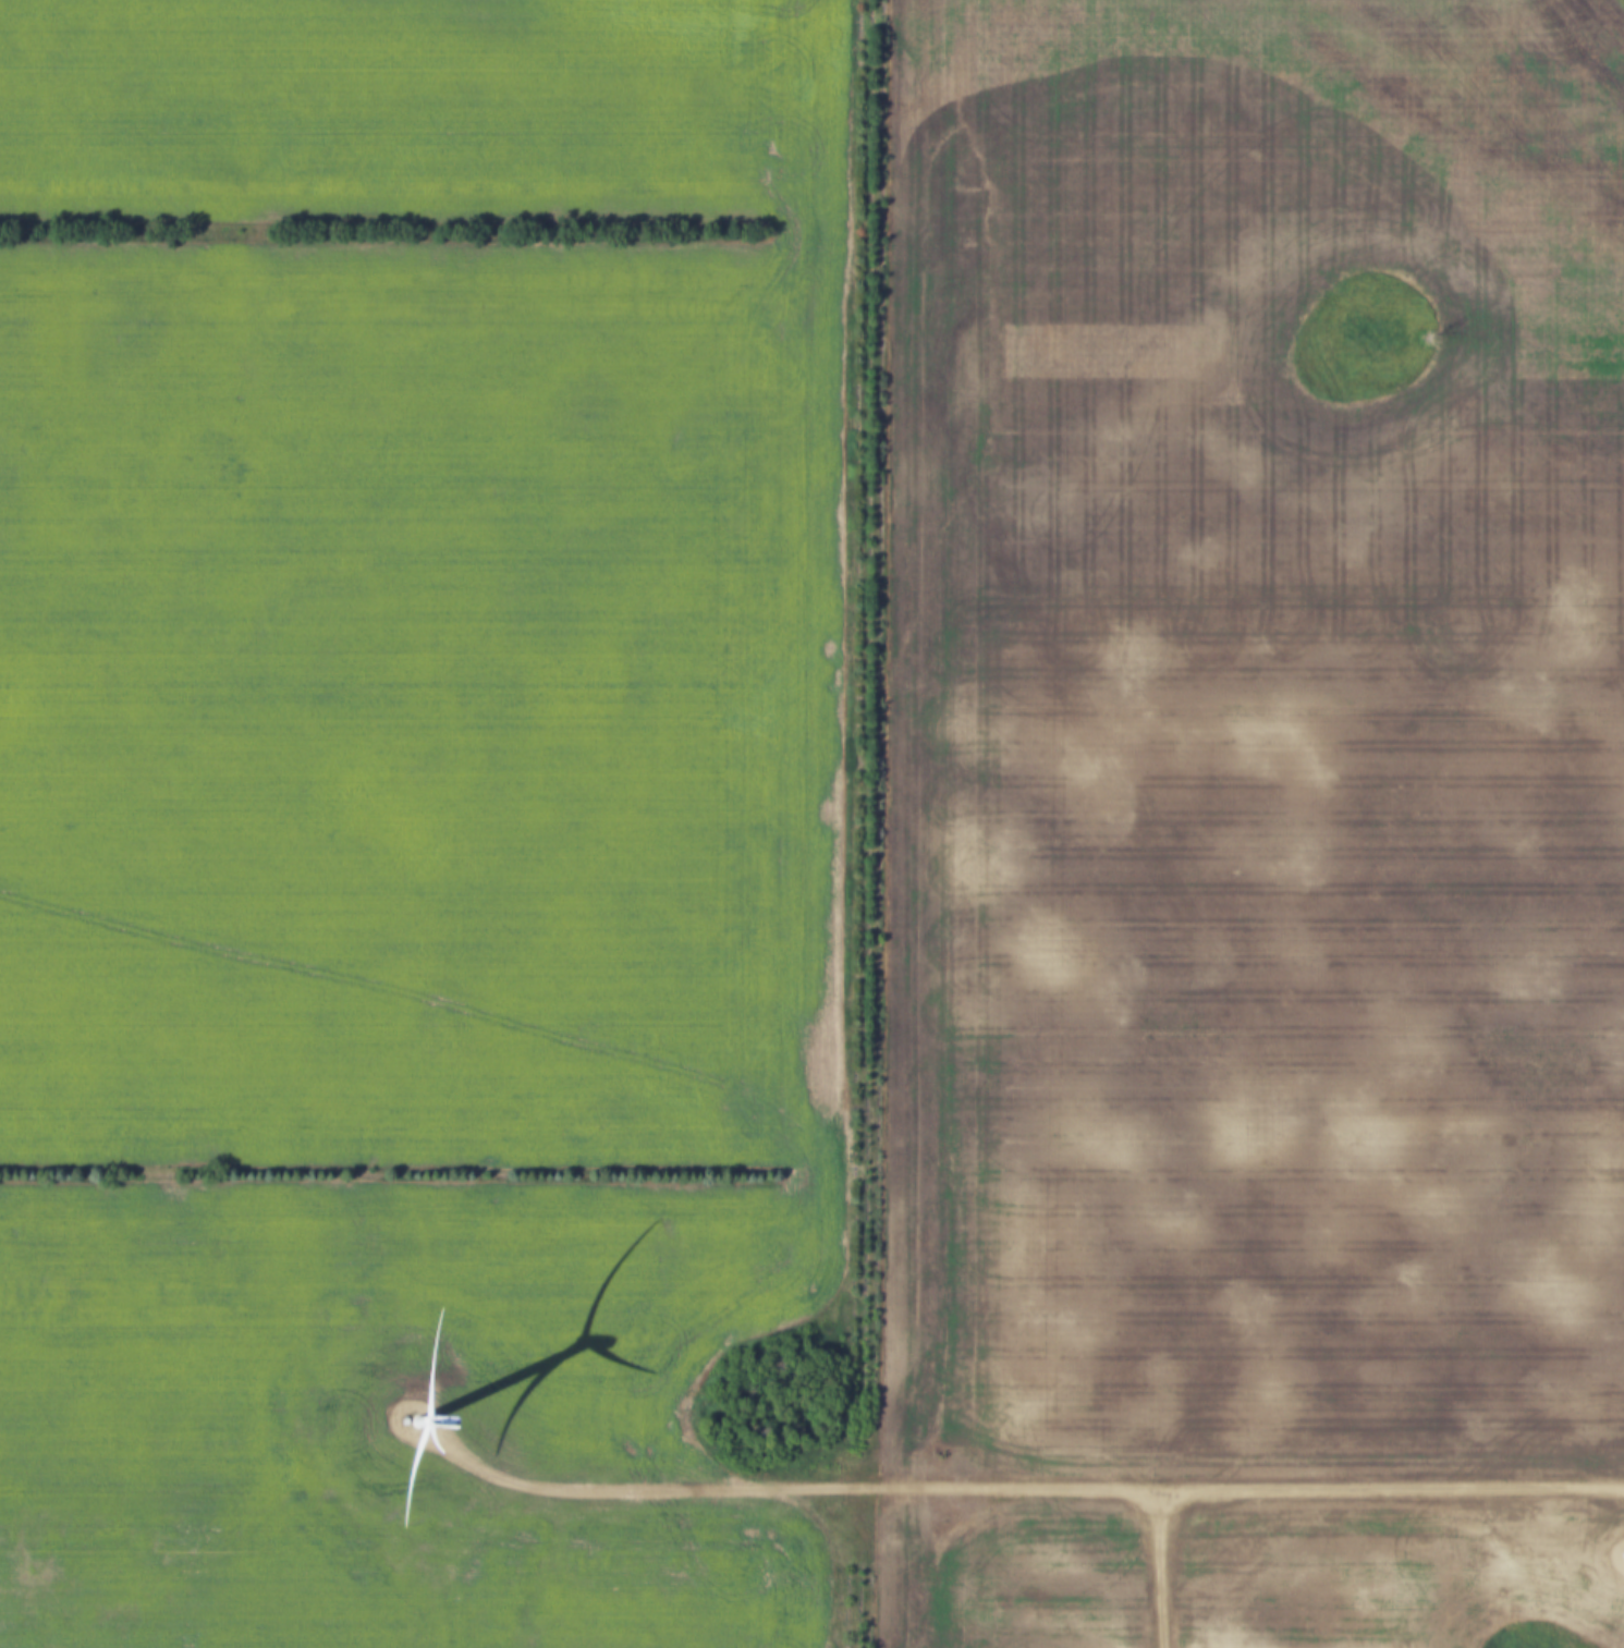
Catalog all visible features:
building: (1468, 113)
building: (1289, 338)
building: (1526, 785)
wind turbine: (419, 1427)
road: (1018, 1490)
road: (1159, 1568)

